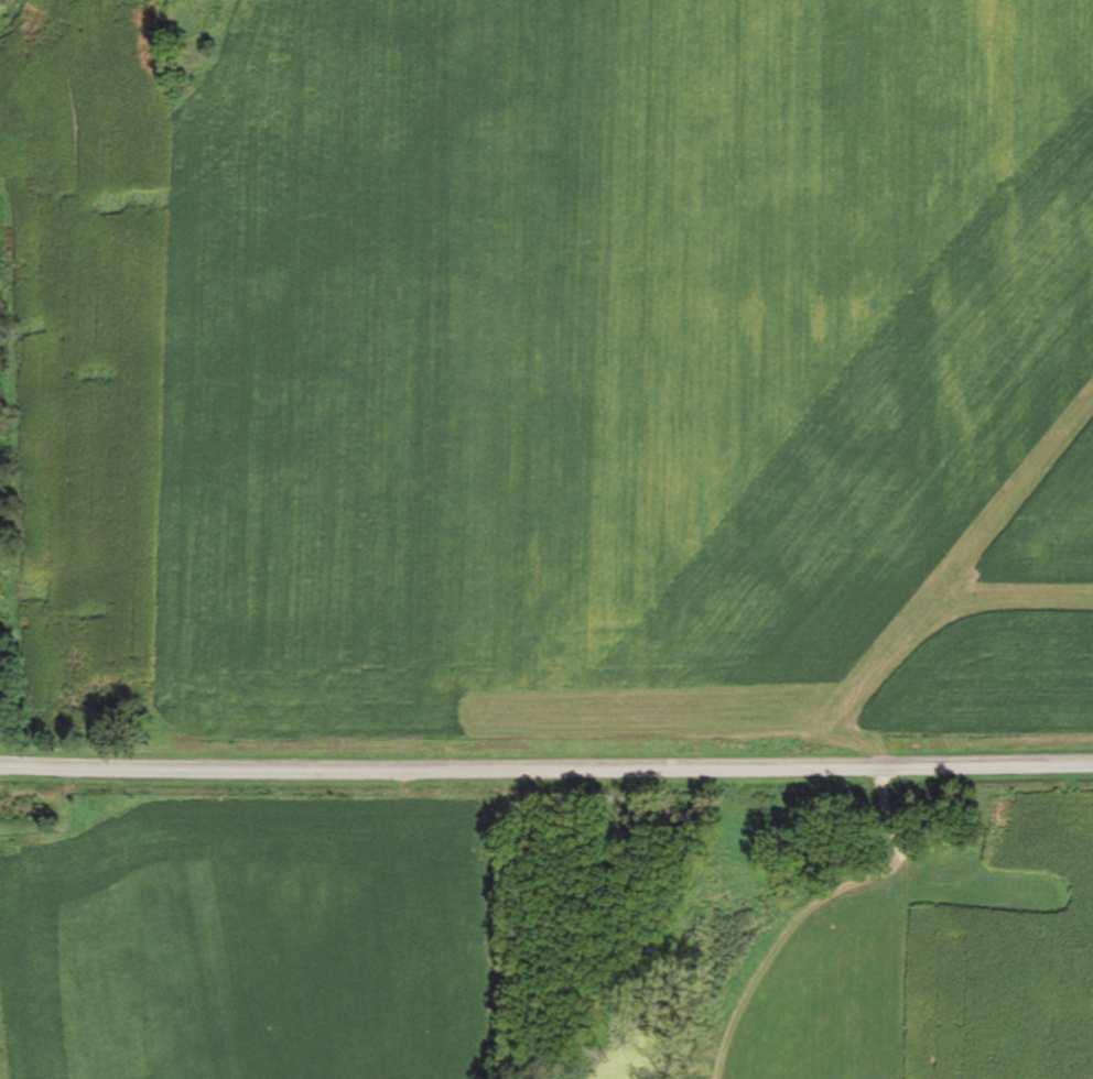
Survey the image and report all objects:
road: (546, 767)

